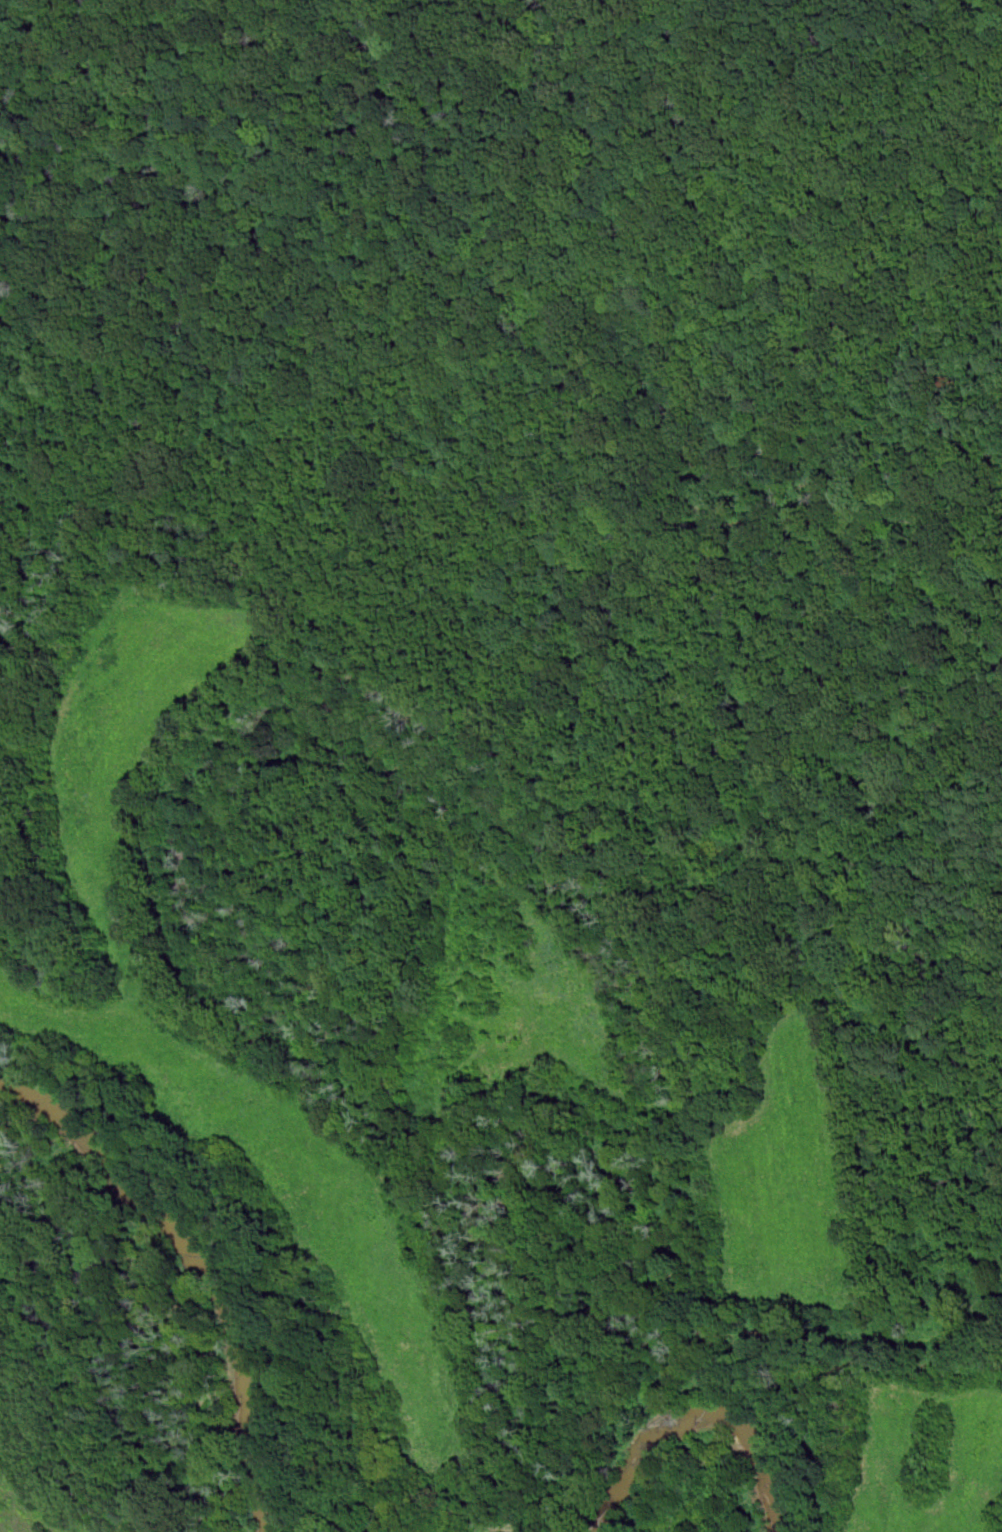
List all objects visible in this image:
river: (199, 1273)
river: (694, 1415)

